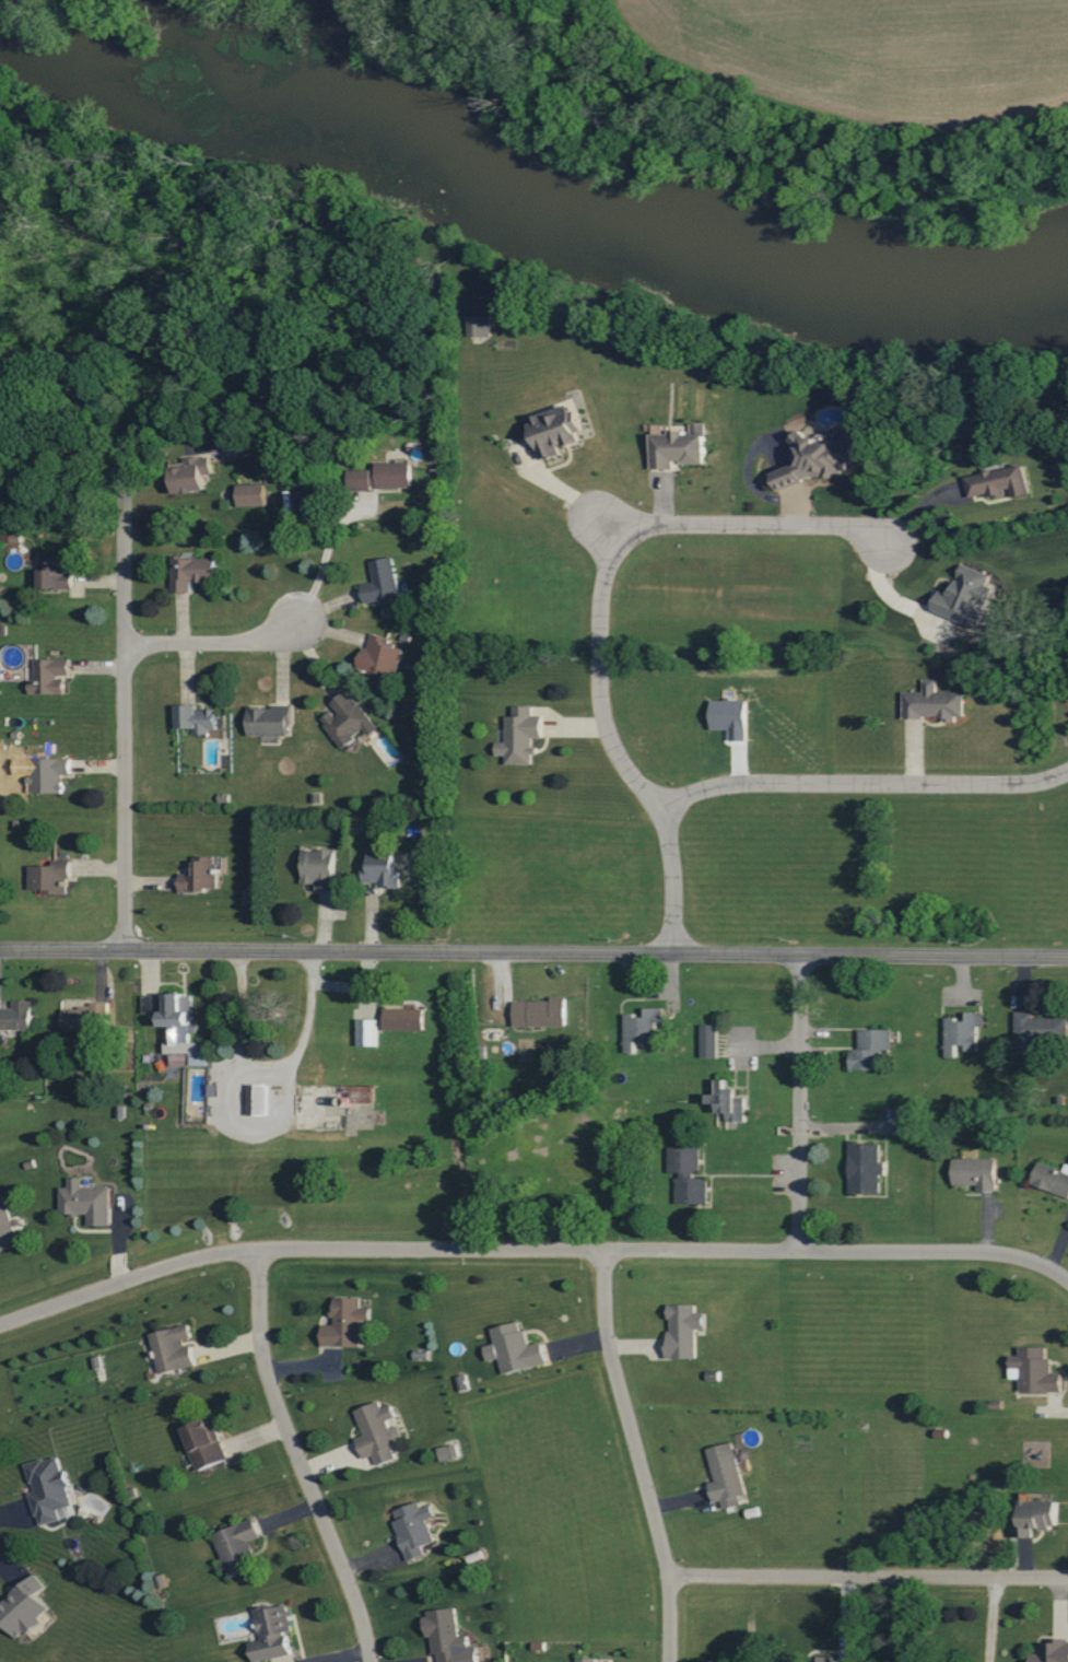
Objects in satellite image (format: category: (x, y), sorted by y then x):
river: (573, 209)
building: (479, 325)
building: (556, 429)
building: (679, 446)
building: (817, 459)
building: (192, 473)
building: (383, 476)
building: (998, 482)
building: (253, 493)
road: (609, 532)
building: (10, 537)
building: (56, 572)
building: (192, 572)
building: (382, 581)
road: (884, 592)
building: (966, 596)
road: (598, 617)
road: (204, 649)
building: (380, 656)
building: (50, 676)
building: (934, 702)
building: (196, 717)
road: (118, 718)
building: (348, 719)
building: (269, 721)
building: (521, 736)
building: (49, 773)
road: (862, 785)
building: (320, 867)
building: (382, 867)
building: (50, 876)
building: (200, 876)
road: (533, 950)
building: (541, 1013)
building: (16, 1016)
building: (84, 1017)
building: (404, 1019)
building: (177, 1025)
building: (643, 1028)
building: (1038, 1030)
building: (366, 1032)
building: (962, 1032)
building: (708, 1041)
building: (870, 1049)
building: (180, 1060)
road: (267, 1069)
building: (362, 1093)
building: (258, 1099)
building: (729, 1101)
road: (796, 1102)
building: (865, 1168)
building: (976, 1172)
building: (689, 1174)
building: (1052, 1178)
building: (85, 1202)
building: (7, 1227)
road: (293, 1246)
road: (837, 1251)
building: (345, 1323)
building: (684, 1330)
building: (517, 1348)
building: (173, 1349)
building: (1035, 1371)
building: (378, 1432)
building: (206, 1444)
building: (448, 1452)
road: (632, 1454)
road: (294, 1458)
building: (726, 1475)
building: (49, 1489)
building: (1037, 1518)
building: (414, 1529)
building: (237, 1547)
road: (865, 1579)
building: (23, 1607)
building: (272, 1634)
building: (449, 1637)
building: (1052, 1652)
building: (587, 1660)
building: (824, 1660)

